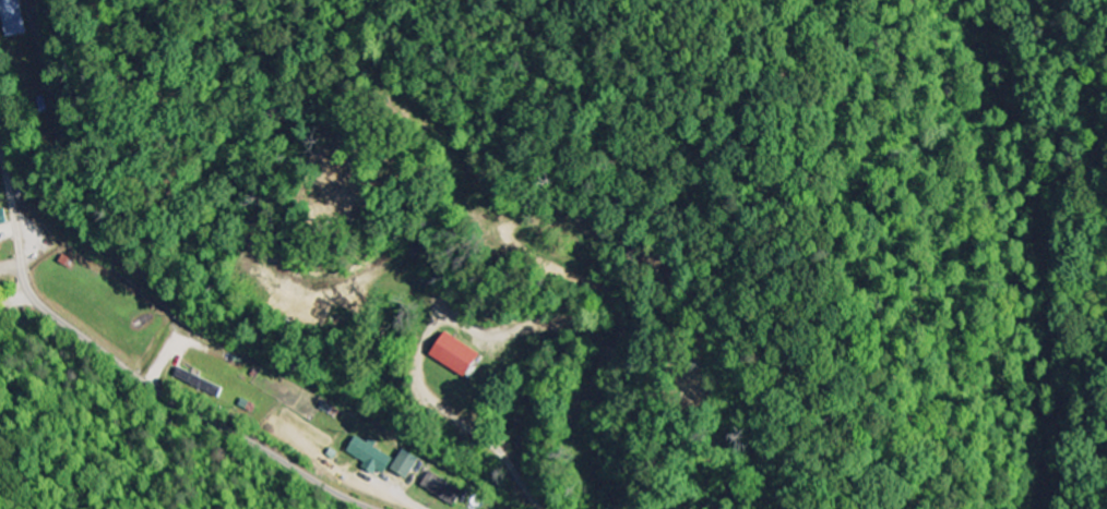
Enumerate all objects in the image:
building: (20, 19)
road: (10, 204)
building: (4, 218)
building: (1, 250)
building: (462, 355)
building: (199, 385)
road: (171, 400)
building: (373, 457)
building: (408, 464)
building: (444, 489)

